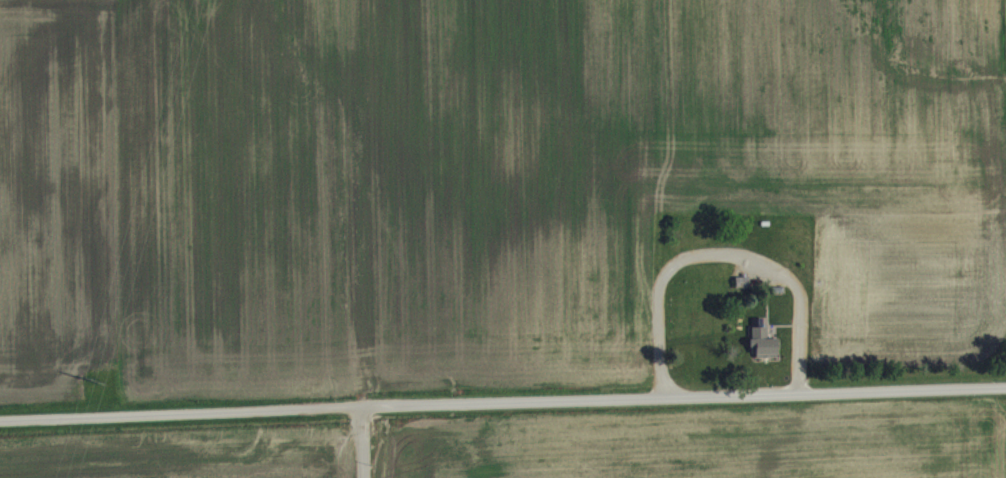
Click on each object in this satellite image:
building: (794, 246)
road: (718, 250)
building: (766, 342)
road: (503, 403)
road: (359, 442)

